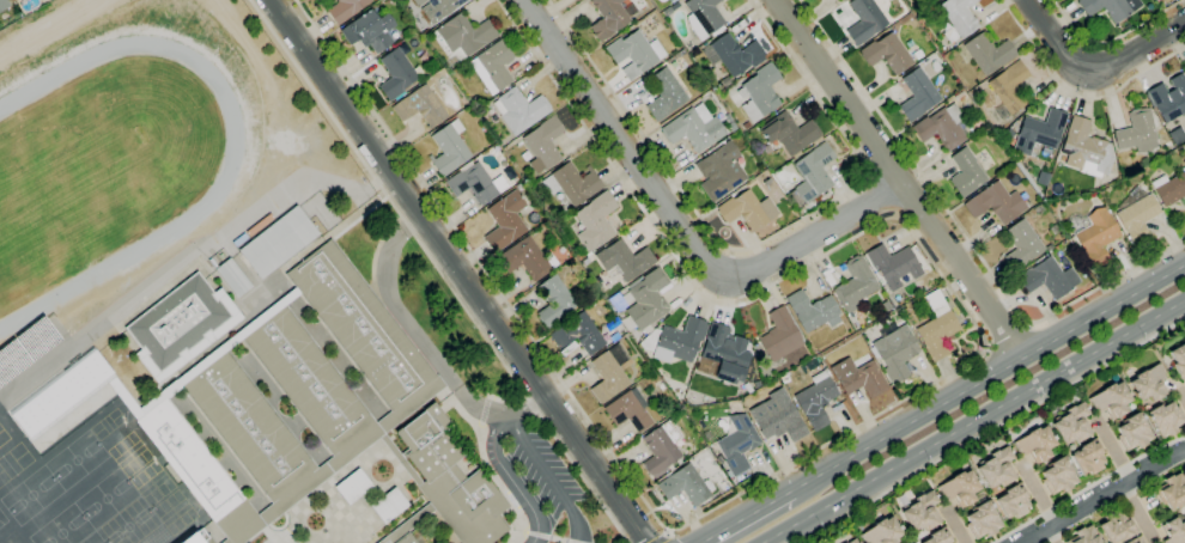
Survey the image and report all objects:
building: (930, 0)
building: (932, 0)
building: (4, 5)
building: (1110, 7)
building: (438, 8)
building: (345, 10)
building: (667, 12)
building: (959, 16)
building: (609, 17)
building: (704, 18)
building: (864, 20)
building: (369, 31)
building: (950, 35)
building: (462, 36)
road: (1113, 38)
building: (633, 53)
building: (987, 53)
building: (736, 54)
building: (886, 54)
building: (492, 67)
road: (1095, 69)
building: (396, 74)
building: (725, 81)
building: (1008, 89)
building: (759, 92)
building: (664, 94)
building: (917, 94)
road: (1076, 94)
building: (1168, 98)
building: (475, 103)
building: (420, 106)
building: (965, 106)
building: (519, 110)
building: (746, 126)
building: (942, 127)
building: (693, 128)
building: (1138, 130)
building: (1039, 132)
building: (790, 134)
building: (543, 144)
building: (449, 148)
building: (1086, 150)
track: (101, 167)
building: (719, 171)
building: (965, 172)
building: (812, 175)
road: (897, 176)
track: (223, 181)
building: (475, 184)
building: (572, 184)
park: (68, 185)
building: (1169, 188)
building: (995, 203)
building: (1039, 209)
building: (747, 211)
building: (1136, 215)
building: (504, 221)
building: (595, 221)
road: (679, 225)
building: (1053, 230)
building: (1093, 233)
road: (965, 234)
road: (759, 242)
building: (278, 243)
building: (1021, 246)
building: (1049, 246)
building: (527, 258)
building: (622, 260)
building: (893, 264)
road: (439, 270)
road: (458, 270)
building: (231, 277)
building: (1047, 277)
building: (855, 283)
building: (646, 299)
building: (554, 301)
building: (616, 303)
building: (885, 305)
building: (812, 311)
building: (177, 322)
building: (360, 324)
building: (936, 327)
road: (412, 329)
road: (1004, 332)
building: (215, 334)
building: (578, 334)
building: (779, 335)
building: (675, 341)
building: (219, 350)
building: (725, 353)
building: (895, 353)
building: (794, 354)
building: (1179, 360)
road: (986, 372)
building: (608, 373)
building: (858, 377)
building: (1148, 383)
building: (312, 386)
building: (60, 393)
road: (1181, 395)
building: (1111, 399)
building: (815, 401)
building: (411, 404)
building: (628, 410)
road: (869, 419)
building: (1165, 419)
road: (972, 420)
building: (778, 421)
building: (1072, 425)
road: (991, 429)
building: (253, 432)
building: (1132, 432)
building: (737, 444)
building: (1035, 444)
building: (661, 447)
building: (1088, 457)
park: (77, 459)
building: (188, 459)
building: (401, 460)
park: (14, 463)
road: (498, 463)
building: (329, 468)
building: (996, 468)
building: (1058, 476)
road: (1122, 476)
road: (553, 477)
building: (451, 481)
building: (931, 481)
parking lot: (548, 483)
building: (686, 486)
building: (353, 487)
road: (1088, 487)
building: (961, 489)
building: (1172, 490)
park: (32, 495)
road: (1102, 495)
road: (1038, 500)
building: (1013, 501)
building: (389, 506)
building: (920, 512)
road: (743, 515)
building: (982, 520)
building: (243, 521)
building: (407, 524)
road: (952, 525)
building: (1116, 526)
building: (1173, 531)
building: (882, 532)
road: (545, 536)
building: (1083, 536)
building: (197, 537)
road: (662, 537)
building: (938, 537)
building: (405, 538)
building: (852, 541)
building: (1135, 541)

